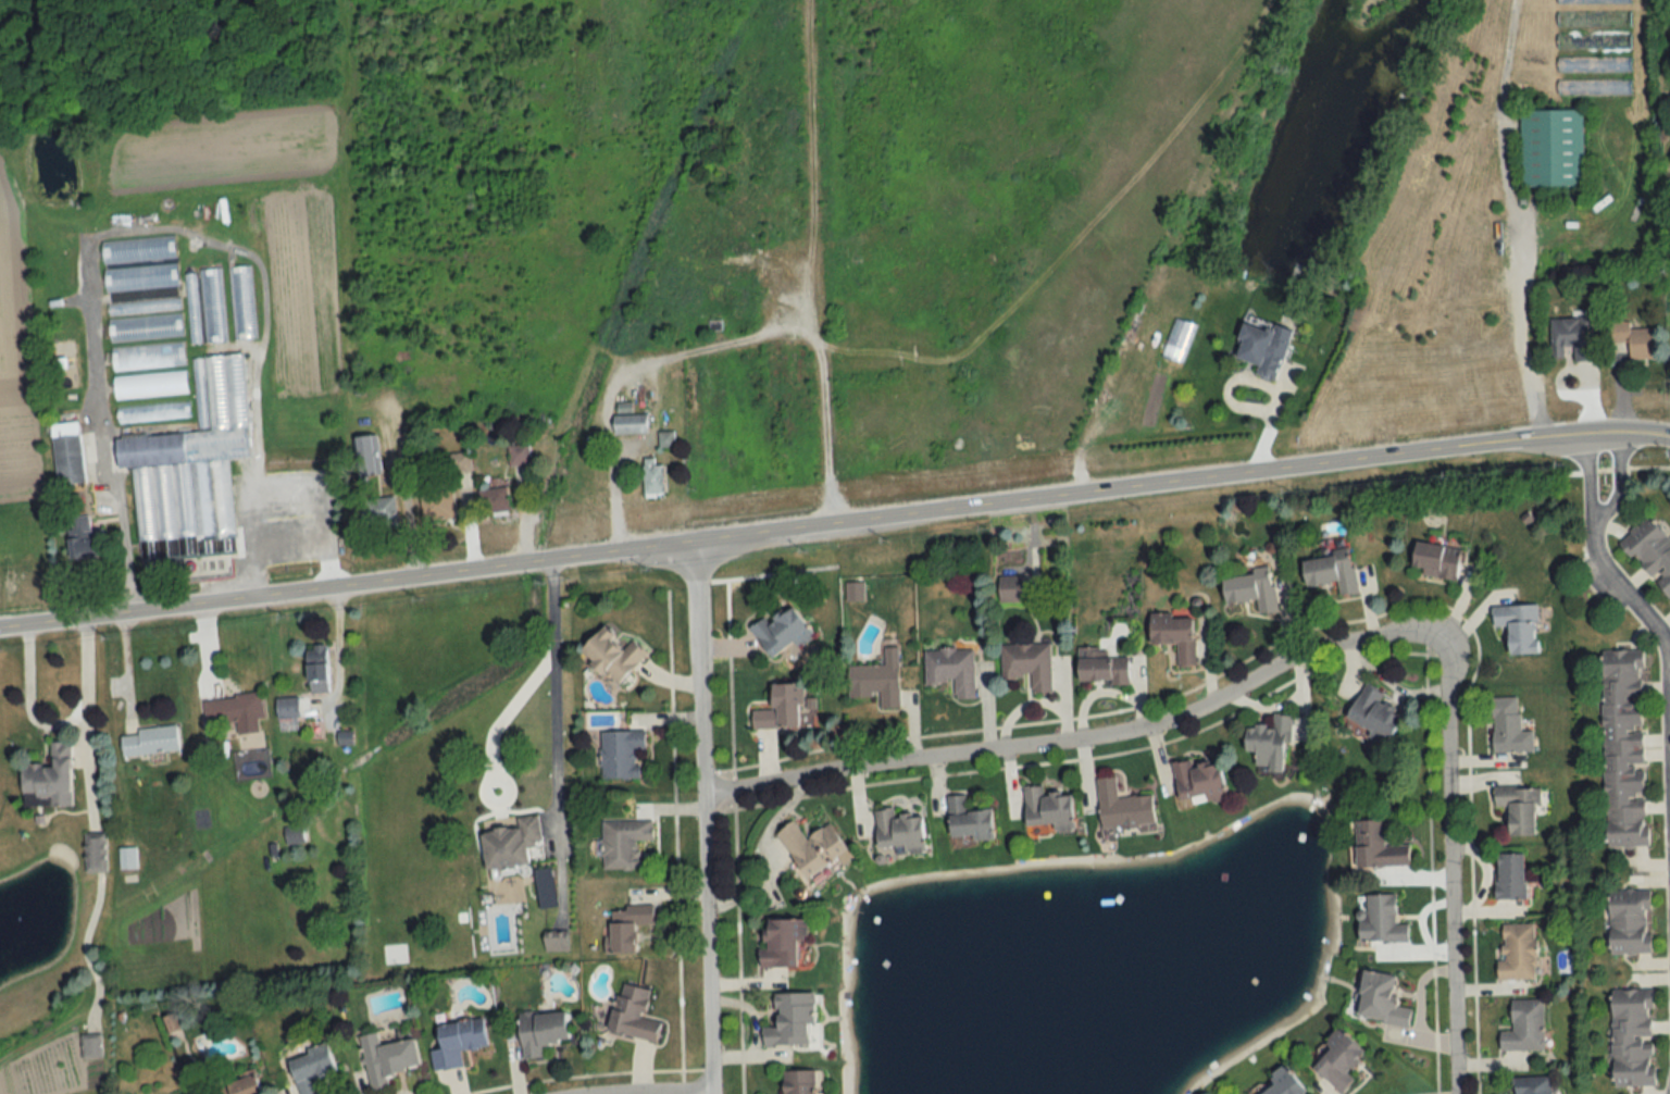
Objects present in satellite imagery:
building: (1592, 1)
building: (1593, 18)
building: (1593, 41)
building: (1593, 64)
building: (1593, 87)
building: (1550, 148)
road: (1510, 222)
building: (137, 249)
building: (139, 277)
building: (241, 303)
building: (212, 306)
building: (142, 307)
building: (191, 309)
building: (145, 327)
building: (1573, 338)
building: (1633, 340)
building: (1177, 341)
building: (1262, 349)
crop: (15, 355)
building: (147, 357)
building: (150, 382)
building: (152, 412)
road: (1270, 420)
building: (628, 424)
road: (1667, 437)
road: (1667, 437)
building: (664, 439)
road: (607, 447)
building: (518, 455)
building: (366, 457)
building: (67, 460)
building: (460, 462)
building: (190, 469)
building: (651, 480)
road: (1588, 480)
road: (1613, 482)
building: (494, 502)
building: (436, 507)
building: (377, 512)
road: (122, 526)
road: (831, 530)
building: (84, 538)
building: (1652, 551)
building: (1434, 560)
building: (1330, 571)
building: (1009, 588)
building: (1250, 588)
building: (853, 592)
road: (1650, 624)
building: (1518, 626)
building: (782, 631)
building: (1175, 635)
building: (612, 655)
building: (1027, 664)
building: (1100, 666)
building: (315, 668)
building: (950, 670)
road: (126, 671)
building: (876, 680)
road: (26, 703)
building: (233, 708)
building: (780, 708)
building: (287, 713)
road: (80, 714)
building: (1373, 716)
road: (553, 724)
building: (1507, 726)
road: (1081, 741)
building: (149, 742)
building: (1268, 742)
building: (1622, 748)
building: (620, 754)
building: (48, 779)
building: (1197, 780)
building: (1121, 808)
building: (1518, 808)
building: (1047, 809)
road: (702, 820)
building: (967, 820)
building: (897, 831)
building: (292, 834)
building: (623, 843)
building: (510, 844)
building: (1376, 845)
building: (810, 847)
building: (95, 855)
building: (126, 858)
road: (1450, 870)
building: (1509, 875)
building: (1378, 920)
building: (1629, 921)
building: (626, 927)
building: (781, 942)
building: (1516, 952)
building: (1380, 998)
building: (631, 1012)
building: (788, 1020)
building: (1523, 1027)
building: (540, 1031)
building: (1631, 1037)
building: (457, 1042)
building: (90, 1046)
building: (386, 1058)
building: (1336, 1060)
building: (311, 1067)
building: (797, 1082)
building: (1531, 1085)
building: (239, 1086)

